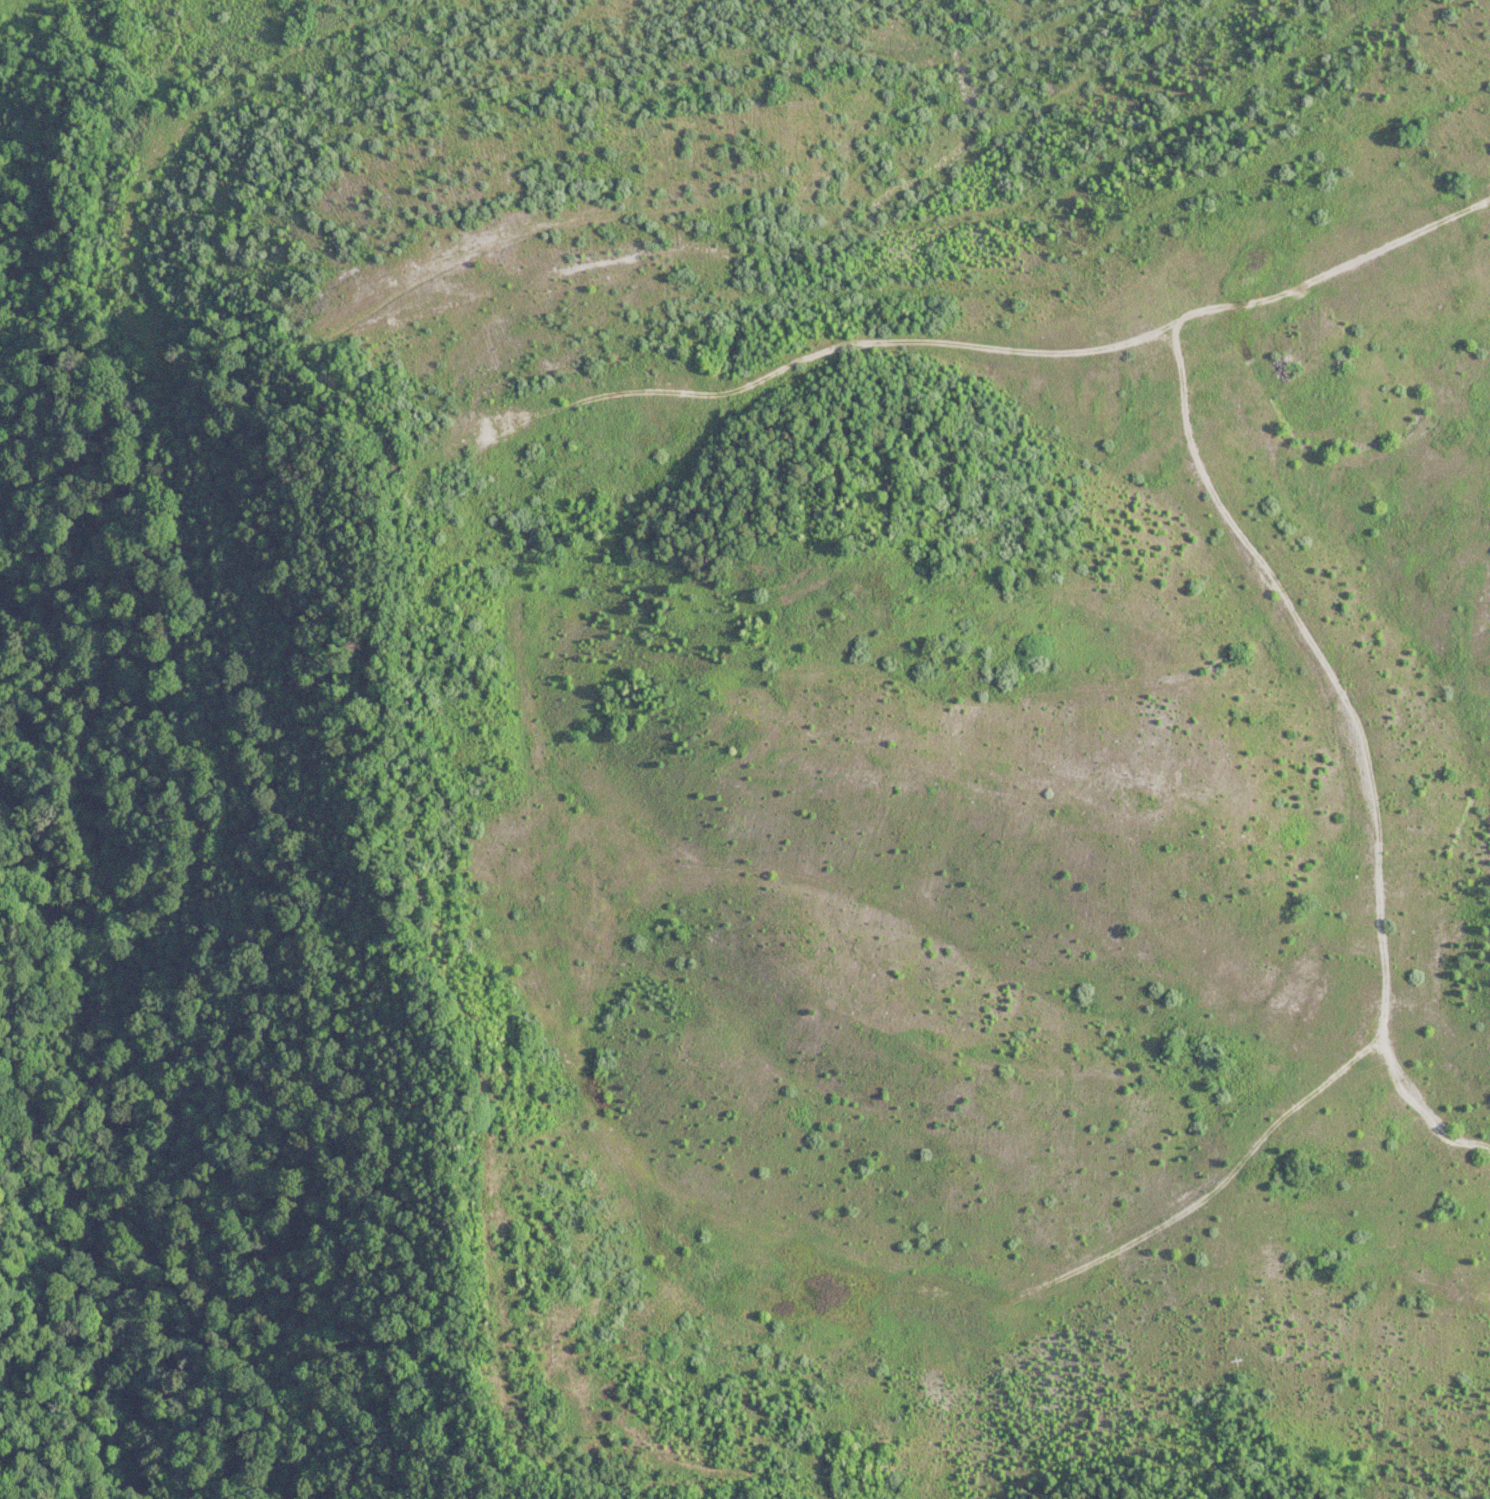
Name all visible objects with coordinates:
quarry: (21, 29)
quarry: (963, 699)

